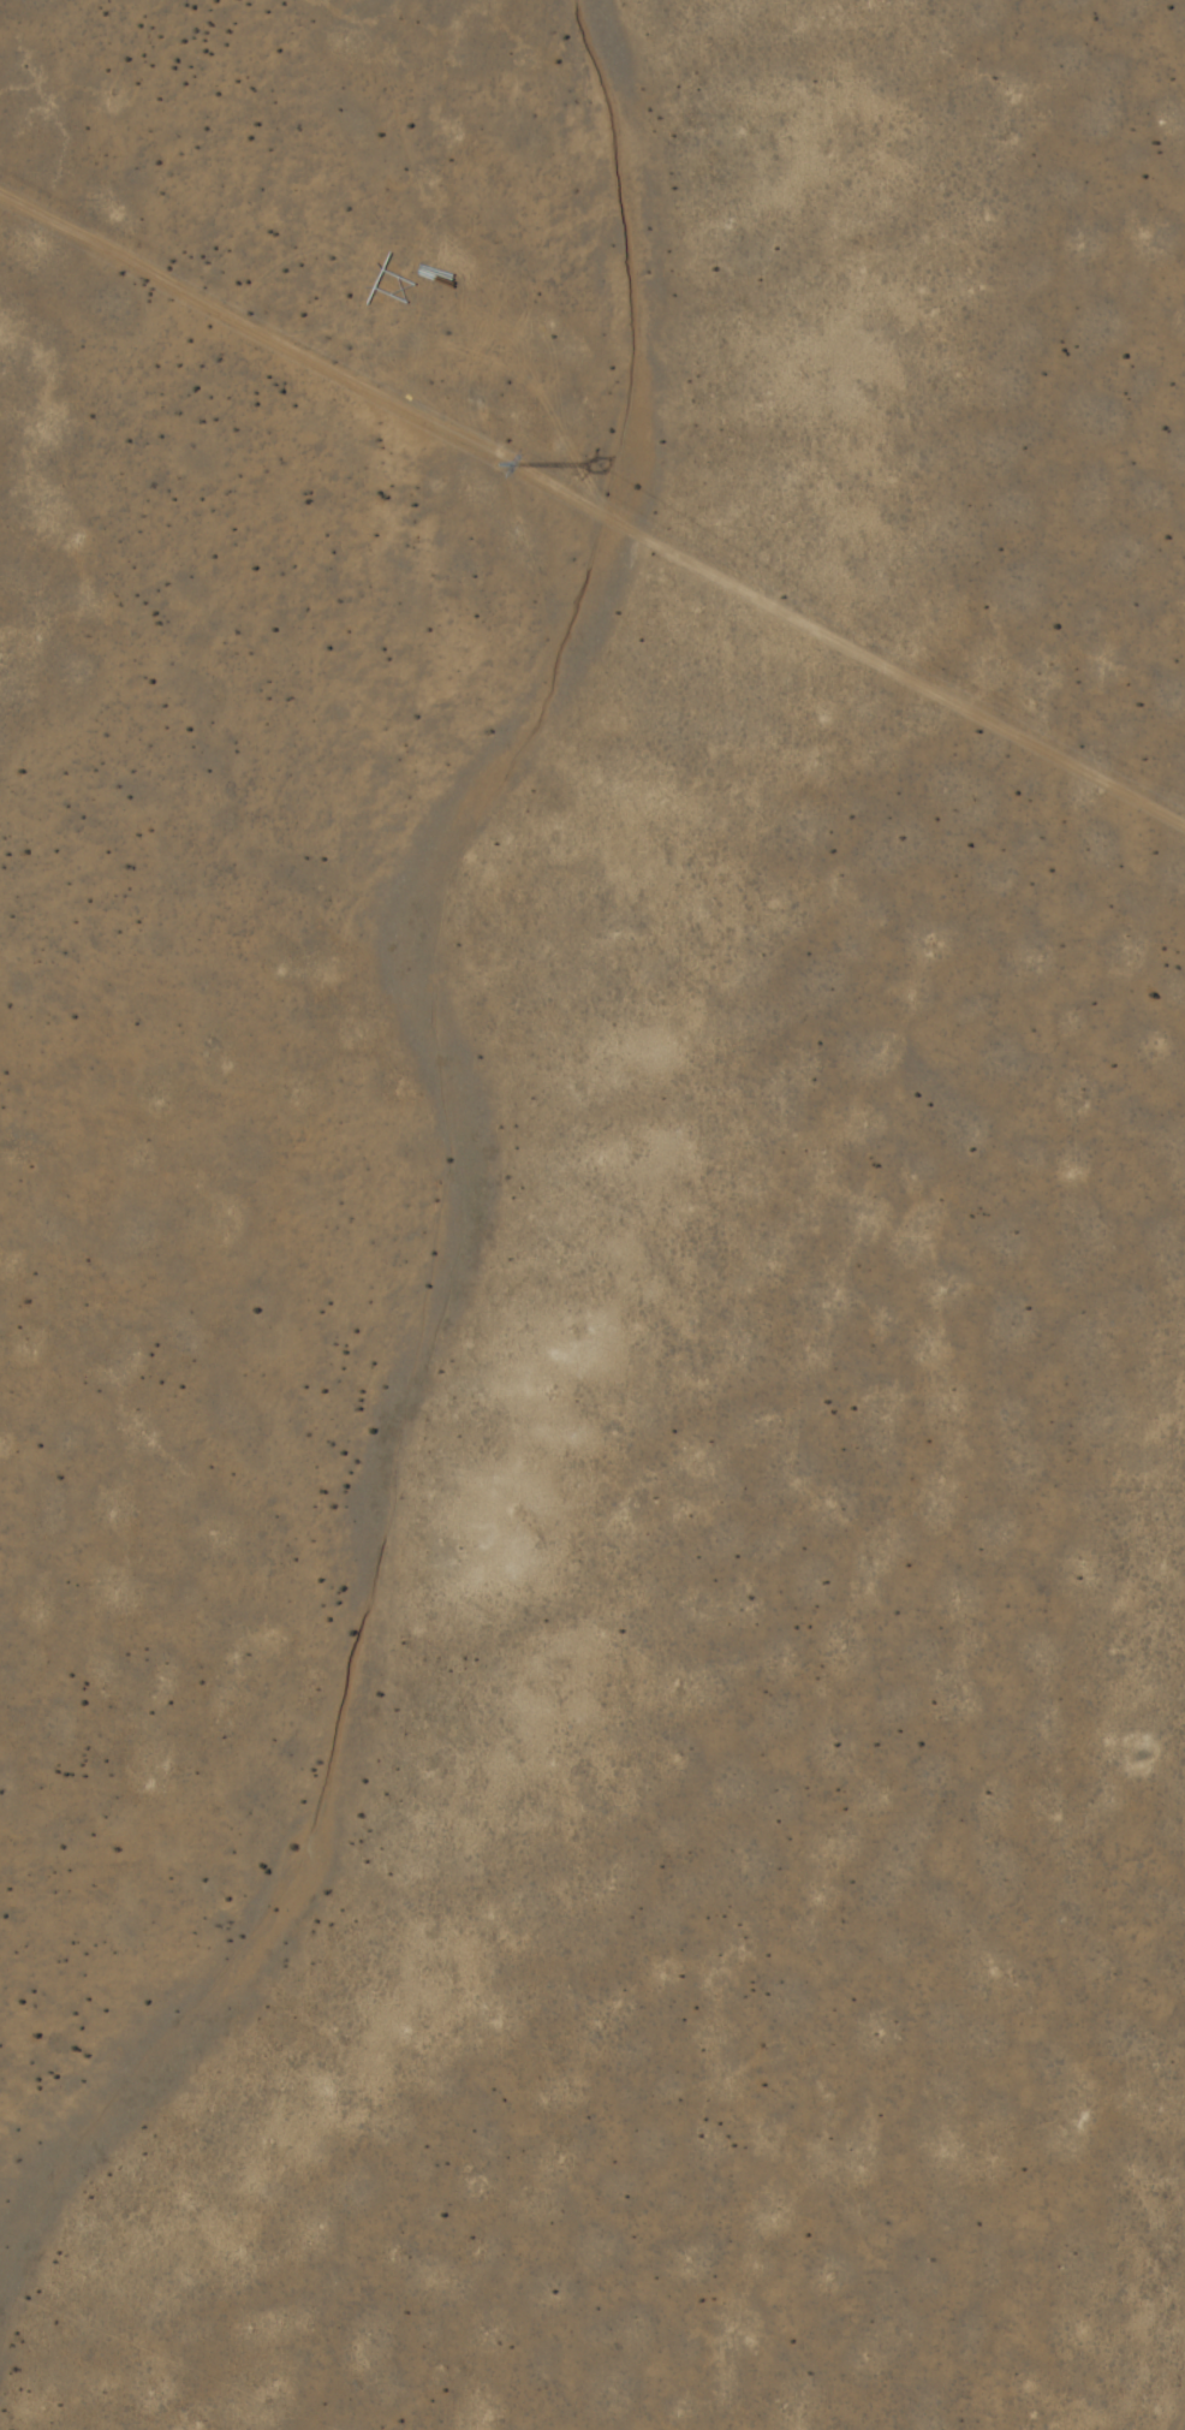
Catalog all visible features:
power tower: (484, 461)
road: (1091, 1214)

